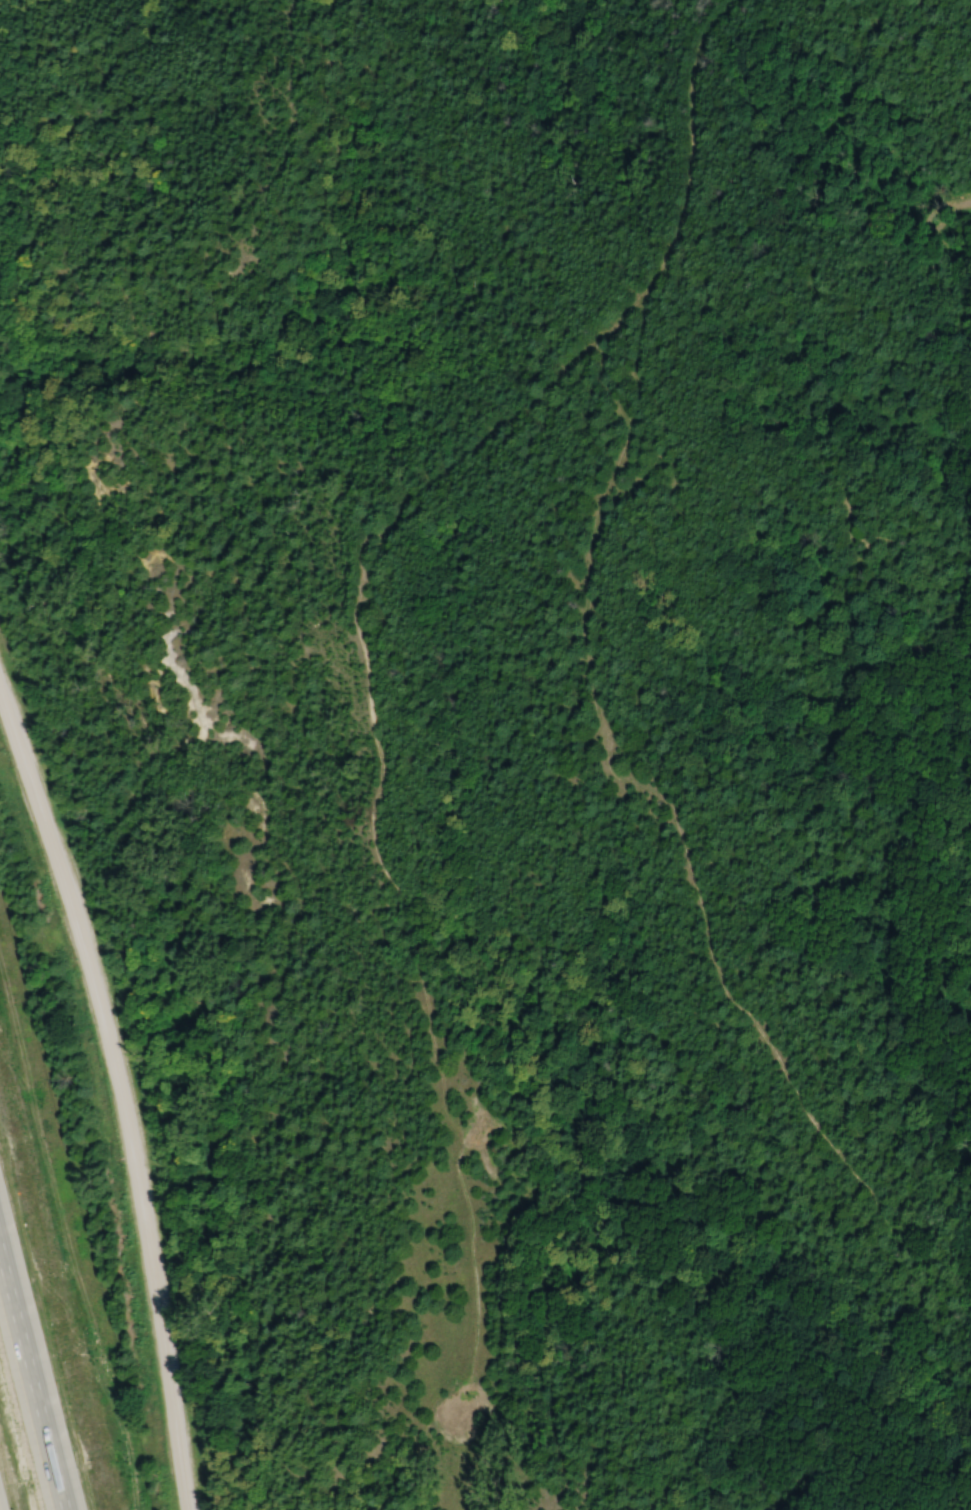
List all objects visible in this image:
road: (121, 1093)
road: (41, 1346)
road: (5, 1489)

